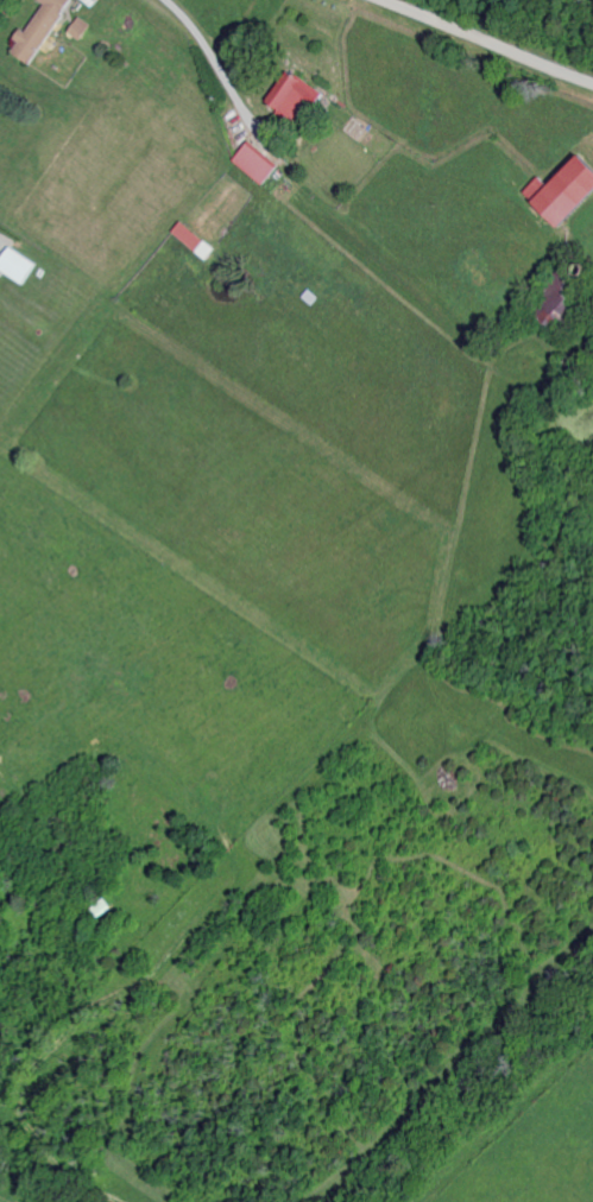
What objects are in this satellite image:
building: (45, 29)
building: (83, 30)
road: (488, 39)
road: (220, 72)
building: (298, 96)
building: (259, 164)
building: (562, 200)
building: (196, 241)
building: (19, 266)

